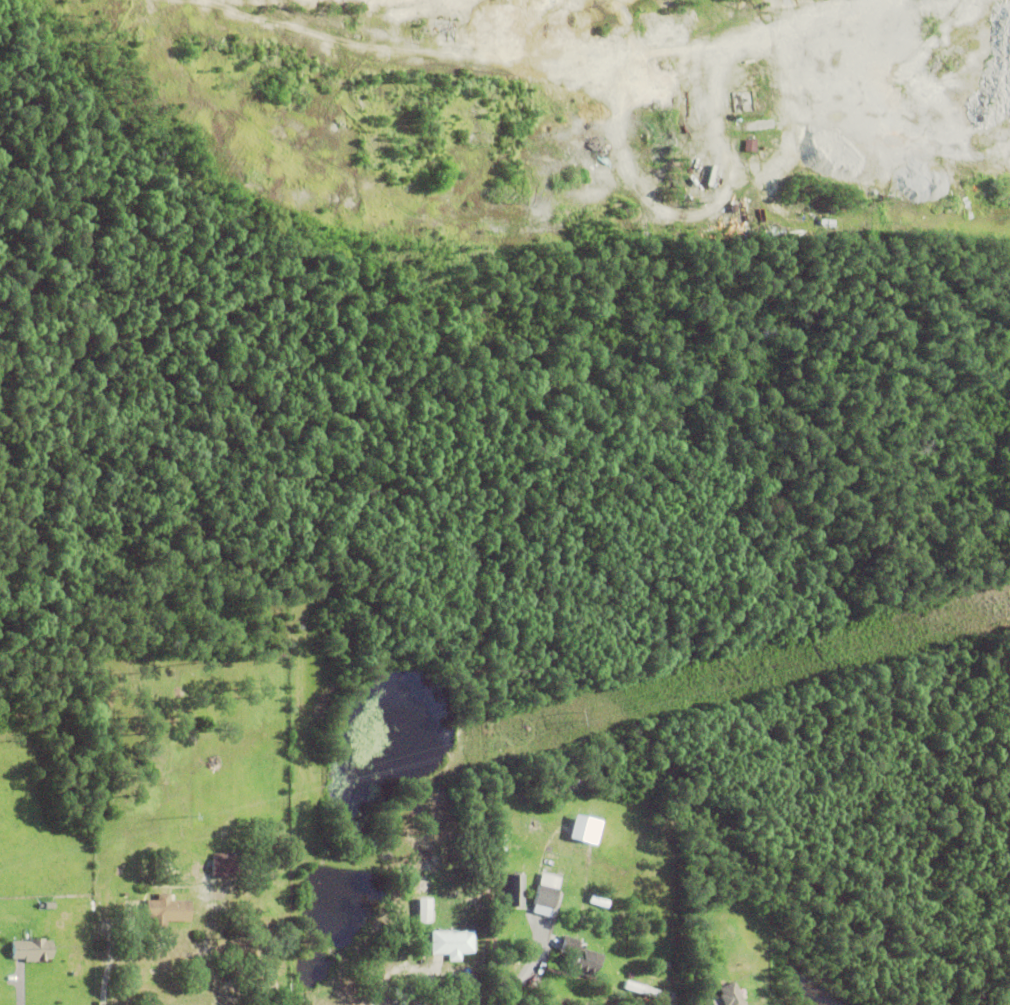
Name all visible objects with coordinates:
building: (752, 146)
building: (814, 223)
building: (424, 857)
building: (224, 867)
building: (509, 889)
building: (546, 896)
building: (168, 912)
building: (425, 912)
building: (453, 945)
building: (31, 952)
building: (581, 961)
road: (519, 968)
building: (644, 992)
building: (727, 994)

